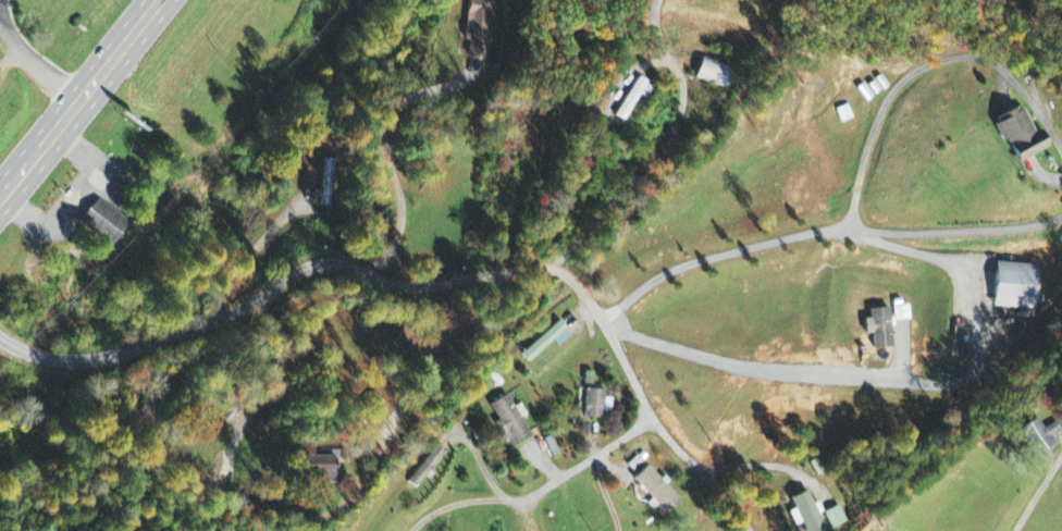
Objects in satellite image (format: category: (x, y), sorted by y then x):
building: (478, 27)
road: (40, 63)
building: (714, 74)
road: (891, 98)
road: (82, 101)
building: (844, 114)
road: (1039, 120)
building: (1018, 135)
building: (329, 183)
building: (101, 222)
road: (822, 229)
road: (422, 286)
building: (1014, 286)
building: (878, 329)
building: (545, 342)
road: (798, 375)
building: (592, 405)
building: (509, 421)
building: (1039, 436)
building: (425, 468)
building: (321, 470)
building: (656, 491)
road: (1038, 491)
road: (539, 492)
building: (806, 513)
road: (296, 518)
building: (836, 518)

